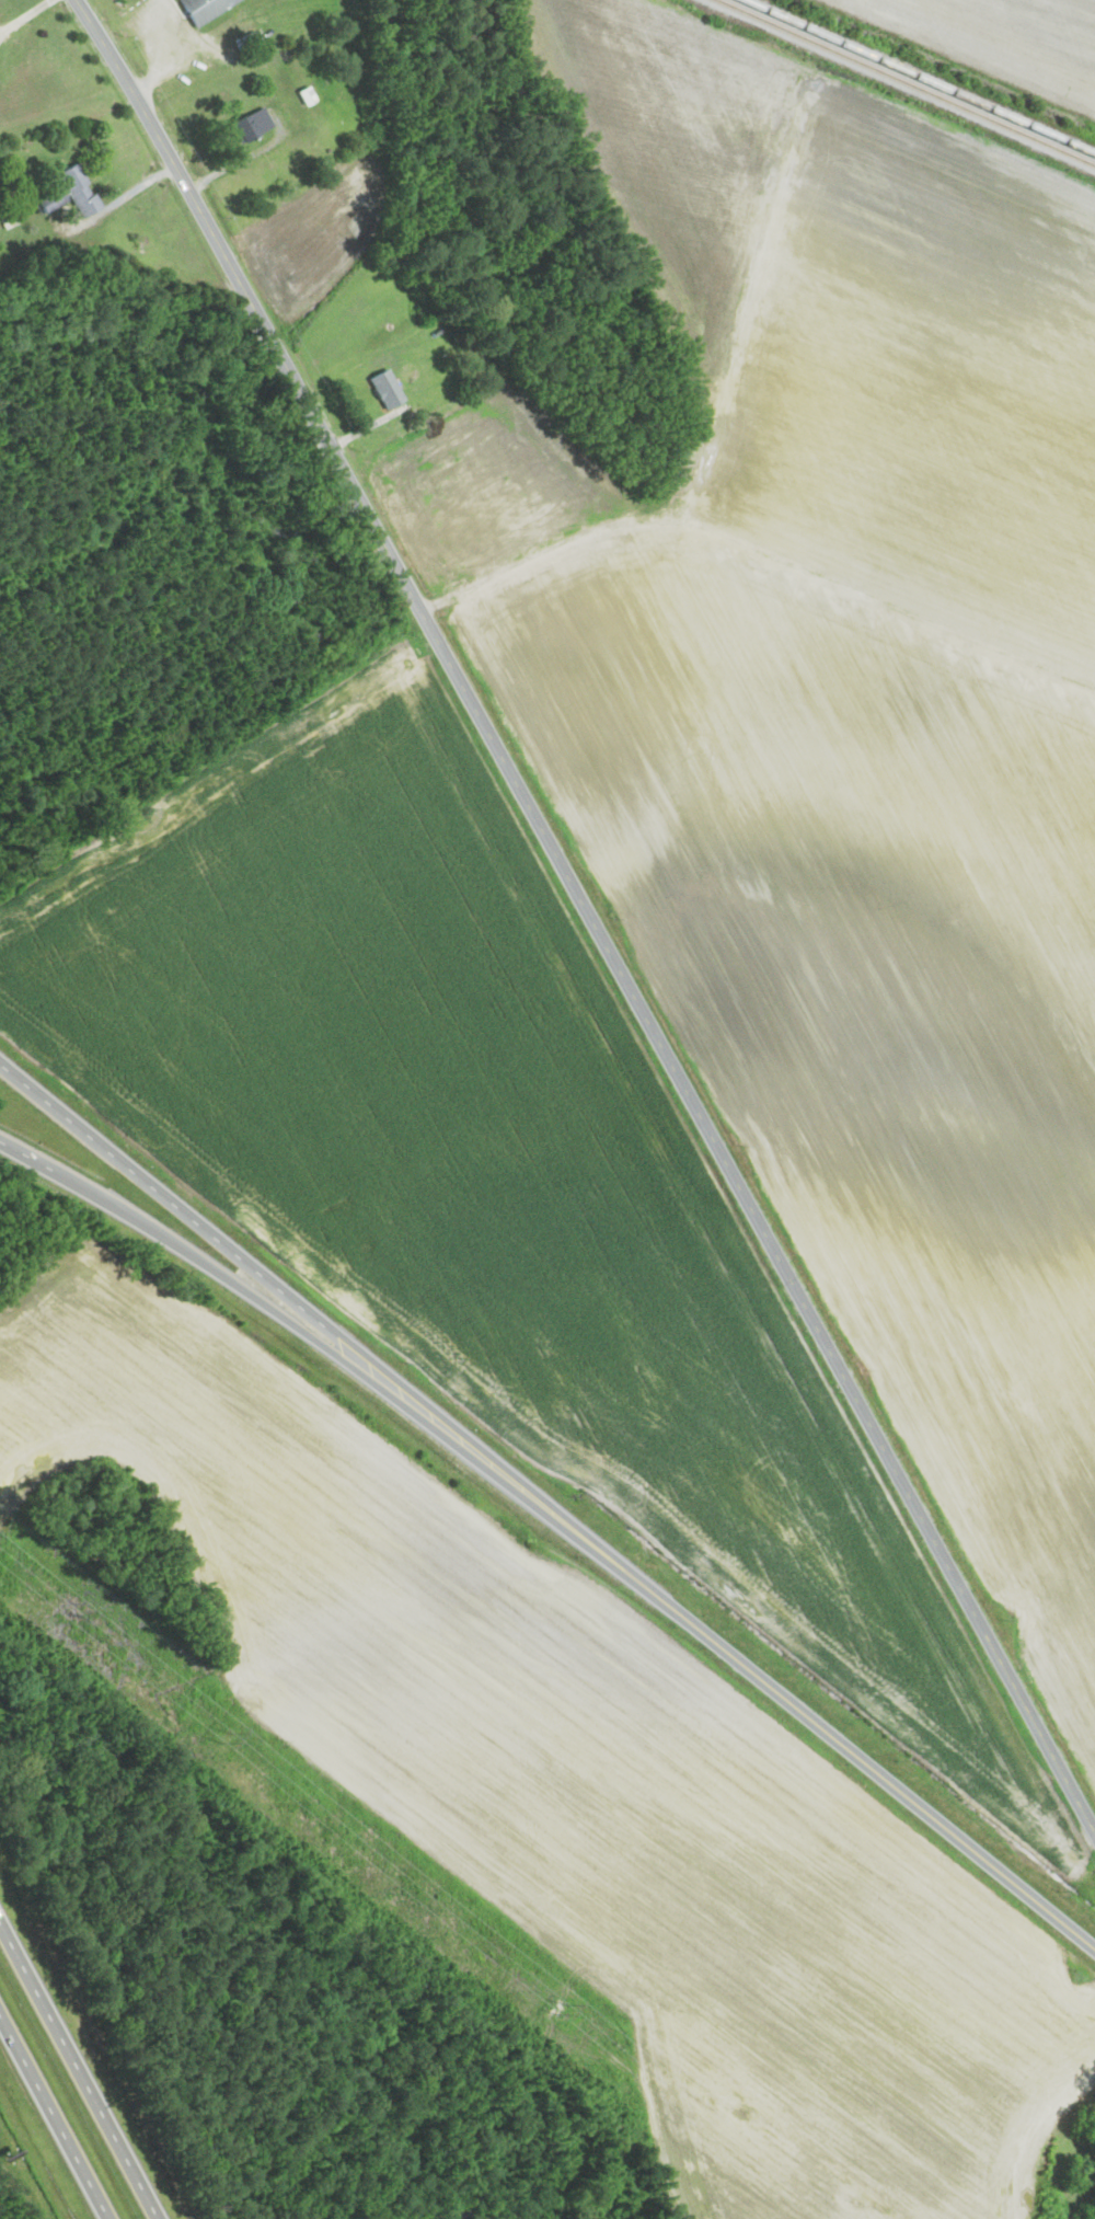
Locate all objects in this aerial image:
building: (205, 9)
railway: (919, 76)
railway: (906, 82)
building: (253, 127)
building: (71, 194)
building: (388, 390)
road: (588, 915)
road: (287, 1295)
road: (293, 1323)
road: (833, 1738)
power tower: (227, 1741)
power tower: (566, 2012)
road: (79, 2071)
road: (53, 2116)

